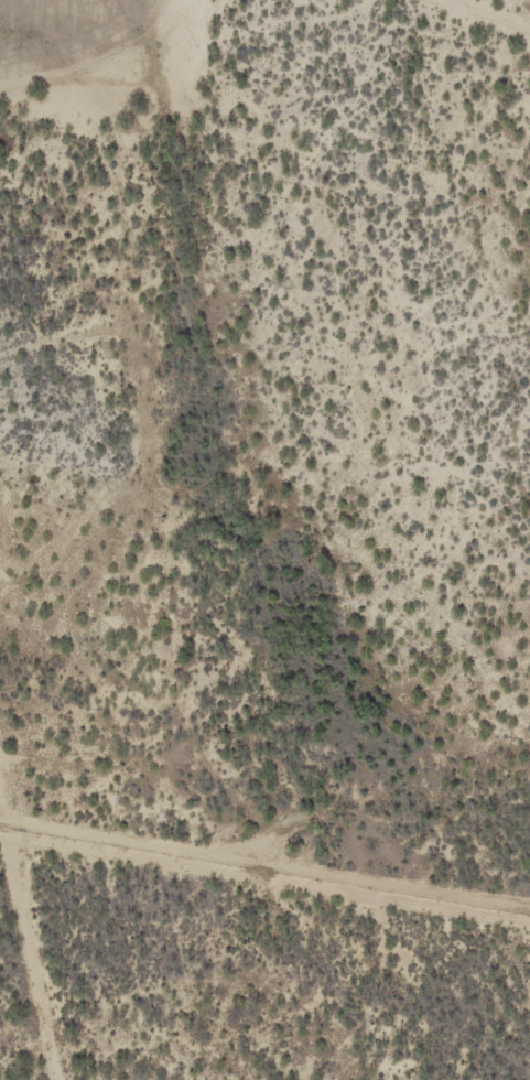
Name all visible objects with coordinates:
road: (264, 865)

